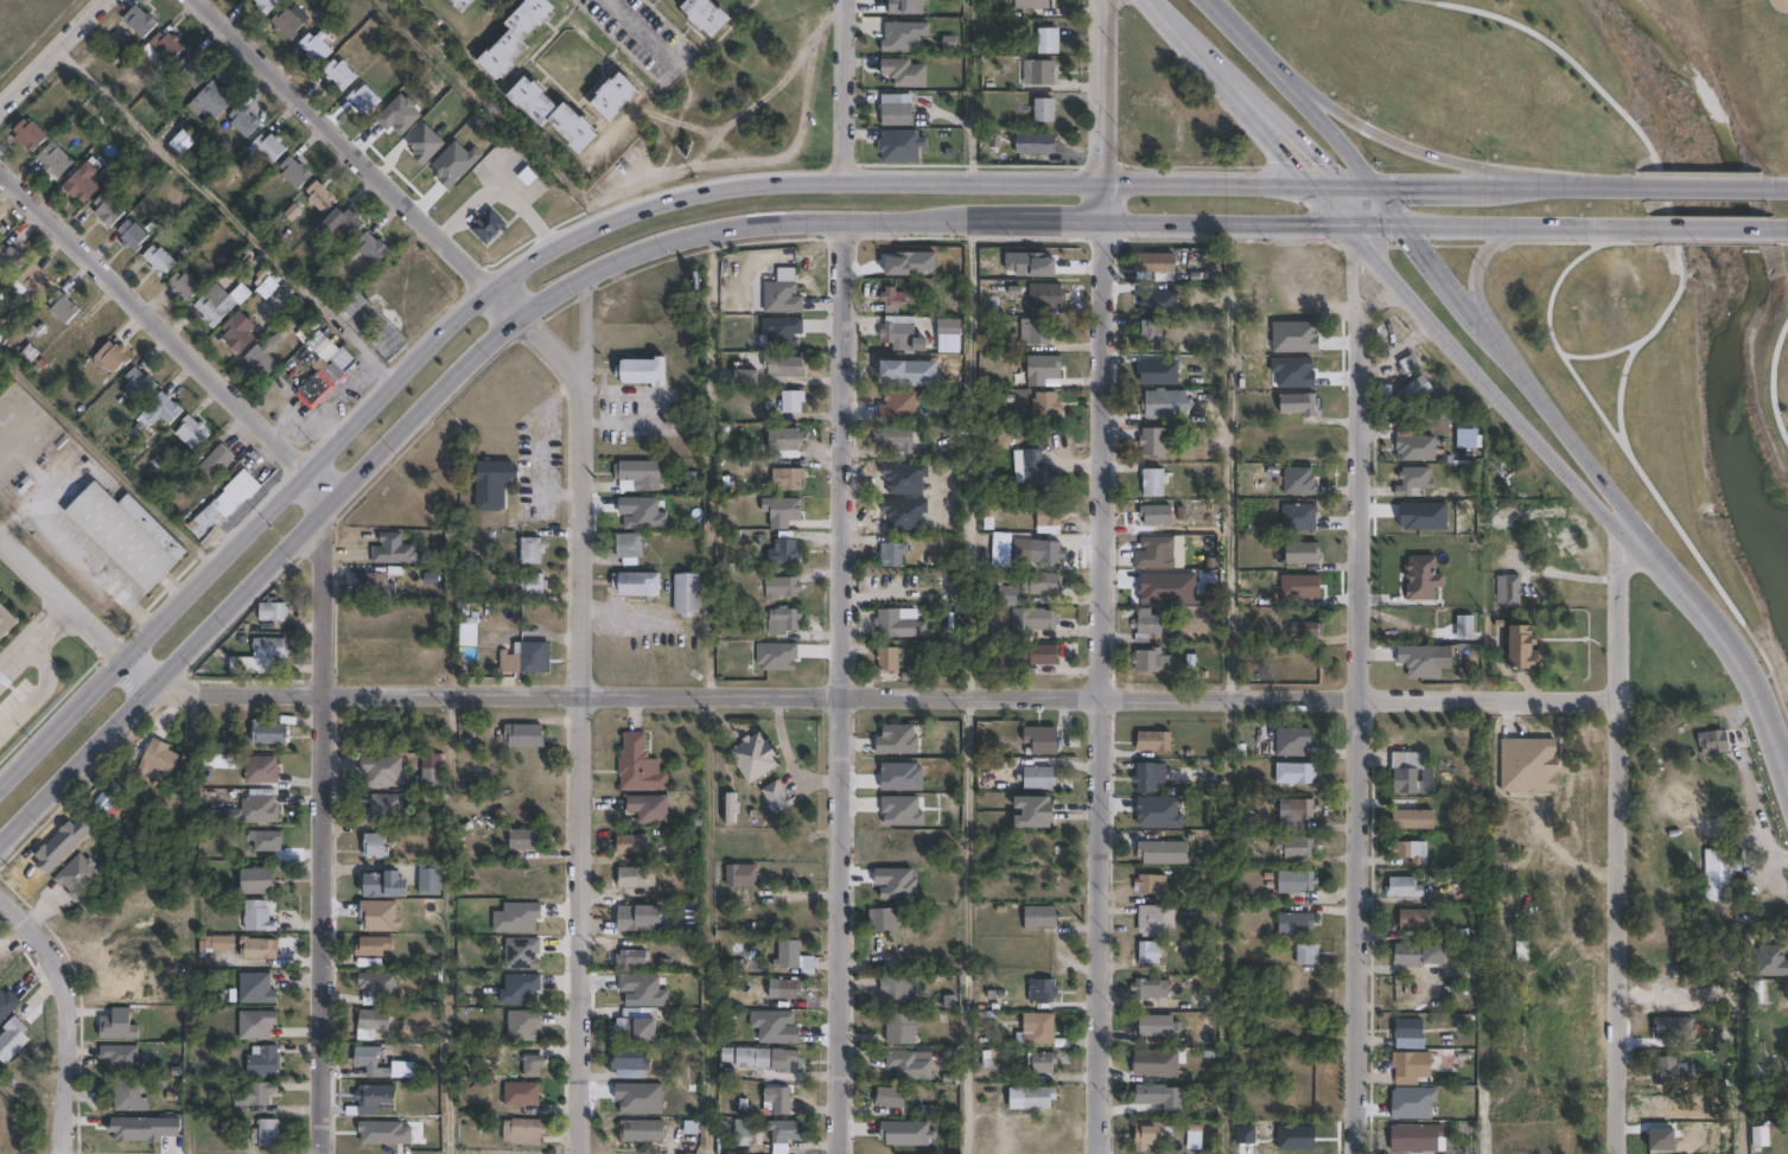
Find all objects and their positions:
building: (686, 0)
park: (4, 4)
building: (1032, 4)
building: (266, 5)
building: (462, 5)
building: (530, 17)
building: (706, 17)
building: (139, 21)
building: (286, 24)
road: (642, 32)
building: (903, 37)
road: (1237, 38)
road: (40, 42)
building: (1049, 42)
building: (165, 46)
building: (314, 47)
building: (503, 56)
road: (1542, 63)
park: (1569, 68)
building: (191, 72)
building: (904, 72)
building: (1042, 72)
building: (339, 75)
road: (844, 90)
building: (615, 97)
building: (363, 101)
building: (532, 101)
building: (211, 102)
road: (1106, 109)
building: (1045, 110)
building: (896, 111)
building: (243, 122)
building: (572, 129)
building: (28, 135)
building: (182, 144)
building: (902, 146)
road: (1396, 146)
building: (267, 148)
building: (1037, 148)
road: (361, 157)
building: (53, 160)
building: (294, 173)
traffic signals: (1319, 179)
traffic signals: (1369, 179)
road: (1700, 180)
road: (1770, 180)
building: (81, 184)
road: (708, 191)
building: (319, 197)
road: (1668, 210)
building: (106, 211)
traffic signals: (1357, 223)
traffic signals: (1405, 223)
road: (1711, 224)
building: (341, 225)
road: (1777, 225)
building: (488, 227)
road: (708, 227)
building: (1, 235)
building: (131, 237)
building: (371, 249)
road: (1386, 255)
building: (11, 260)
building: (158, 262)
building: (1157, 262)
road: (1476, 269)
road: (1357, 278)
building: (36, 283)
building: (266, 283)
building: (183, 287)
road: (1458, 288)
building: (782, 292)
building: (1046, 294)
building: (892, 297)
road: (1387, 297)
building: (351, 305)
building: (62, 307)
building: (214, 307)
road: (580, 314)
road: (172, 329)
building: (781, 330)
building: (87, 331)
building: (1039, 331)
building: (237, 333)
building: (898, 334)
building: (1152, 334)
road: (552, 340)
building: (26, 357)
building: (113, 357)
building: (260, 362)
building: (783, 368)
building: (643, 370)
building: (324, 371)
building: (749, 375)
road: (1770, 380)
building: (138, 388)
building: (1417, 389)
road: (339, 393)
park: (1680, 399)
building: (793, 400)
building: (1166, 403)
building: (1300, 403)
building: (1048, 406)
building: (163, 410)
building: (191, 432)
building: (897, 439)
building: (785, 441)
building: (1156, 441)
building: (1418, 447)
road: (968, 457)
building: (216, 461)
building: (1035, 467)
building: (637, 474)
building: (789, 479)
building: (1414, 479)
building: (1154, 480)
building: (1299, 480)
building: (492, 484)
building: (687, 484)
road: (1691, 496)
building: (224, 502)
building: (781, 510)
building: (632, 512)
building: (1157, 514)
building: (1052, 515)
building: (1300, 517)
building: (126, 535)
building: (629, 547)
building: (393, 549)
building: (532, 549)
building: (784, 550)
building: (1046, 552)
building: (1154, 553)
building: (1303, 553)
building: (891, 555)
building: (1044, 582)
building: (377, 584)
building: (534, 584)
building: (637, 584)
building: (782, 587)
building: (1513, 591)
road: (119, 592)
building: (686, 594)
building: (1010, 597)
road: (75, 607)
building: (272, 611)
building: (1312, 614)
building: (5, 620)
building: (784, 620)
building: (1033, 620)
building: (895, 624)
building: (1309, 624)
building: (1146, 625)
building: (1466, 626)
road: (50, 629)
road: (1724, 630)
building: (269, 648)
building: (1525, 648)
building: (524, 657)
building: (1026, 657)
building: (889, 659)
building: (1152, 659)
building: (1421, 661)
road: (13, 664)
road: (841, 686)
road: (1102, 686)
road: (889, 695)
road: (40, 700)
building: (267, 733)
building: (524, 735)
building: (899, 740)
building: (1042, 740)
building: (1154, 741)
building: (1294, 741)
building: (1713, 741)
road: (1360, 742)
building: (755, 757)
building: (158, 759)
road: (584, 760)
building: (638, 765)
building: (260, 770)
building: (381, 771)
building: (431, 772)
building: (1296, 773)
building: (1039, 777)
building: (1146, 778)
building: (1407, 782)
building: (1431, 782)
building: (777, 797)
building: (106, 801)
building: (649, 808)
building: (731, 808)
building: (259, 809)
building: (383, 809)
building: (1297, 809)
building: (1037, 811)
building: (1414, 820)
road: (326, 833)
road: (1622, 835)
building: (526, 839)
building: (267, 841)
building: (634, 844)
building: (375, 847)
building: (1303, 848)
building: (1163, 853)
building: (1412, 853)
building: (742, 875)
building: (1719, 875)
building: (77, 876)
building: (636, 876)
building: (429, 880)
building: (256, 881)
building: (1297, 881)
building: (1150, 884)
building: (383, 885)
building: (1405, 888)
building: (257, 917)
building: (638, 918)
building: (1039, 918)
building: (883, 920)
building: (1157, 920)
building: (1417, 920)
road: (707, 924)
building: (1296, 924)
road: (37, 942)
building: (370, 946)
building: (206, 948)
building: (257, 949)
building: (1468, 950)
building: (1148, 952)
building: (1438, 954)
building: (788, 955)
building: (1307, 955)
building: (1411, 956)
building: (631, 959)
building: (377, 984)
building: (255, 989)
building: (1151, 989)
building: (789, 990)
building: (895, 990)
building: (1045, 990)
building: (1758, 996)
building: (1201, 999)
building: (922, 1000)
building: (375, 1021)
building: (117, 1025)
building: (255, 1025)
building: (522, 1026)
building: (1157, 1026)
building: (624, 1029)
building: (647, 1029)
building: (902, 1029)
building: (1408, 1029)
building: (1039, 1031)
building: (12, 1040)
building: (121, 1059)
building: (629, 1059)
building: (768, 1060)
building: (370, 1061)
building: (262, 1063)
building: (532, 1066)
building: (909, 1066)
building: (1043, 1066)
building: (1412, 1067)
road: (65, 1071)
building: (1667, 1071)
building: (521, 1094)
building: (254, 1095)
building: (1152, 1095)
building: (1038, 1097)
building: (128, 1098)
building: (891, 1098)
building: (373, 1099)
building: (778, 1101)
building: (743, 1127)
building: (523, 1131)
building: (642, 1131)
building: (784, 1131)
building: (267, 1134)
building: (1152, 1135)
building: (1755, 1136)
building: (1195, 1137)
building: (1418, 1139)

